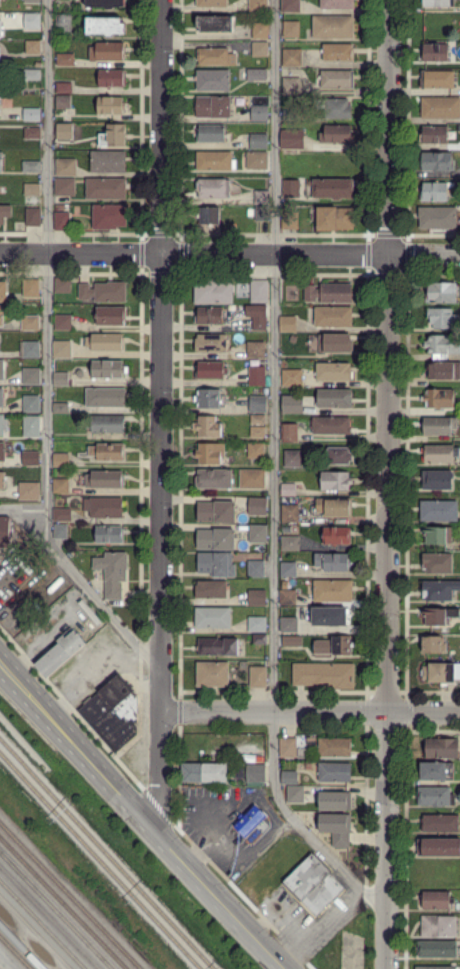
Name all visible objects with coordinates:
building: (31, 1)
building: (105, 3)
building: (211, 3)
building: (336, 3)
building: (436, 3)
building: (257, 5)
building: (290, 6)
building: (31, 21)
building: (213, 23)
building: (62, 25)
building: (103, 25)
building: (332, 27)
building: (0, 28)
building: (290, 28)
building: (259, 30)
building: (32, 47)
building: (259, 49)
building: (106, 51)
building: (337, 52)
building: (433, 52)
building: (215, 56)
building: (291, 57)
building: (64, 59)
building: (31, 74)
building: (255, 74)
building: (111, 78)
building: (336, 79)
building: (436, 79)
building: (211, 80)
building: (290, 85)
building: (62, 87)
building: (62, 101)
building: (109, 106)
building: (211, 106)
building: (334, 107)
building: (439, 108)
building: (258, 112)
building: (287, 113)
building: (30, 114)
building: (65, 118)
building: (63, 130)
building: (209, 133)
building: (29, 134)
building: (333, 134)
building: (432, 134)
building: (112, 135)
building: (290, 138)
building: (257, 140)
building: (256, 160)
building: (214, 161)
building: (108, 162)
building: (435, 162)
building: (0, 163)
building: (65, 165)
building: (31, 166)
building: (64, 187)
building: (105, 188)
building: (212, 188)
building: (290, 188)
building: (31, 189)
building: (332, 189)
building: (433, 191)
building: (261, 197)
building: (4, 212)
building: (262, 213)
building: (210, 216)
building: (108, 217)
building: (436, 217)
building: (32, 218)
building: (334, 218)
building: (290, 220)
building: (61, 221)
road: (229, 253)
road: (47, 269)
building: (62, 285)
building: (30, 288)
building: (103, 291)
building: (212, 291)
building: (259, 291)
building: (441, 291)
building: (2, 292)
building: (327, 292)
building: (107, 315)
building: (209, 315)
building: (1, 316)
building: (332, 316)
building: (442, 318)
building: (62, 322)
building: (259, 322)
building: (29, 323)
building: (288, 324)
building: (291, 337)
building: (105, 341)
building: (335, 341)
building: (210, 343)
building: (441, 345)
building: (28, 349)
building: (62, 349)
building: (255, 350)
building: (252, 361)
building: (106, 369)
building: (210, 370)
building: (0, 371)
building: (332, 371)
building: (443, 371)
building: (255, 375)
building: (30, 376)
building: (292, 377)
building: (60, 379)
road: (273, 397)
building: (0, 398)
building: (105, 398)
building: (333, 398)
building: (438, 398)
building: (209, 399)
building: (30, 403)
building: (258, 403)
building: (289, 405)
building: (60, 408)
road: (157, 418)
building: (257, 419)
building: (104, 424)
building: (1, 425)
building: (29, 425)
building: (330, 425)
building: (437, 426)
building: (207, 427)
building: (257, 431)
building: (288, 432)
building: (255, 450)
building: (2, 452)
building: (107, 452)
building: (210, 454)
building: (439, 454)
building: (338, 455)
building: (292, 458)
building: (29, 459)
building: (61, 460)
building: (212, 479)
building: (251, 479)
building: (436, 479)
building: (103, 480)
building: (335, 480)
building: (1, 481)
road: (386, 484)
building: (60, 485)
building: (287, 489)
building: (27, 491)
building: (256, 506)
building: (102, 507)
building: (333, 507)
road: (23, 509)
building: (438, 511)
building: (213, 512)
building: (289, 513)
building: (62, 514)
building: (287, 528)
building: (3, 532)
building: (59, 532)
building: (255, 533)
building: (107, 534)
building: (334, 535)
building: (435, 535)
building: (213, 539)
building: (289, 543)
building: (332, 561)
building: (437, 563)
building: (214, 564)
building: (254, 568)
building: (287, 570)
building: (111, 573)
parking lot: (9, 577)
building: (210, 589)
building: (439, 590)
building: (332, 591)
building: (256, 598)
building: (287, 598)
road: (101, 605)
building: (438, 615)
building: (329, 616)
building: (212, 618)
building: (93, 624)
building: (256, 624)
building: (288, 624)
building: (259, 639)
building: (291, 642)
building: (433, 643)
building: (332, 646)
building: (216, 647)
building: (61, 652)
building: (438, 672)
building: (212, 674)
building: (256, 676)
building: (323, 676)
road: (307, 711)
building: (111, 713)
building: (287, 747)
building: (333, 747)
building: (441, 747)
building: (437, 771)
building: (203, 772)
building: (334, 772)
building: (256, 774)
building: (288, 777)
building: (293, 794)
building: (435, 796)
building: (331, 801)
road: (140, 820)
building: (248, 820)
building: (439, 824)
building: (333, 828)
building: (438, 847)
road: (328, 852)
railway: (106, 854)
railway: (99, 861)
parking lot: (258, 863)
building: (311, 885)
railway: (69, 896)
building: (436, 900)
railway: (63, 903)
railway: (55, 911)
road: (331, 912)
road: (276, 914)
railway: (42, 924)
building: (437, 926)
railway: (35, 931)
railway: (22, 945)
building: (437, 950)
railway: (15, 952)
building: (436, 968)

